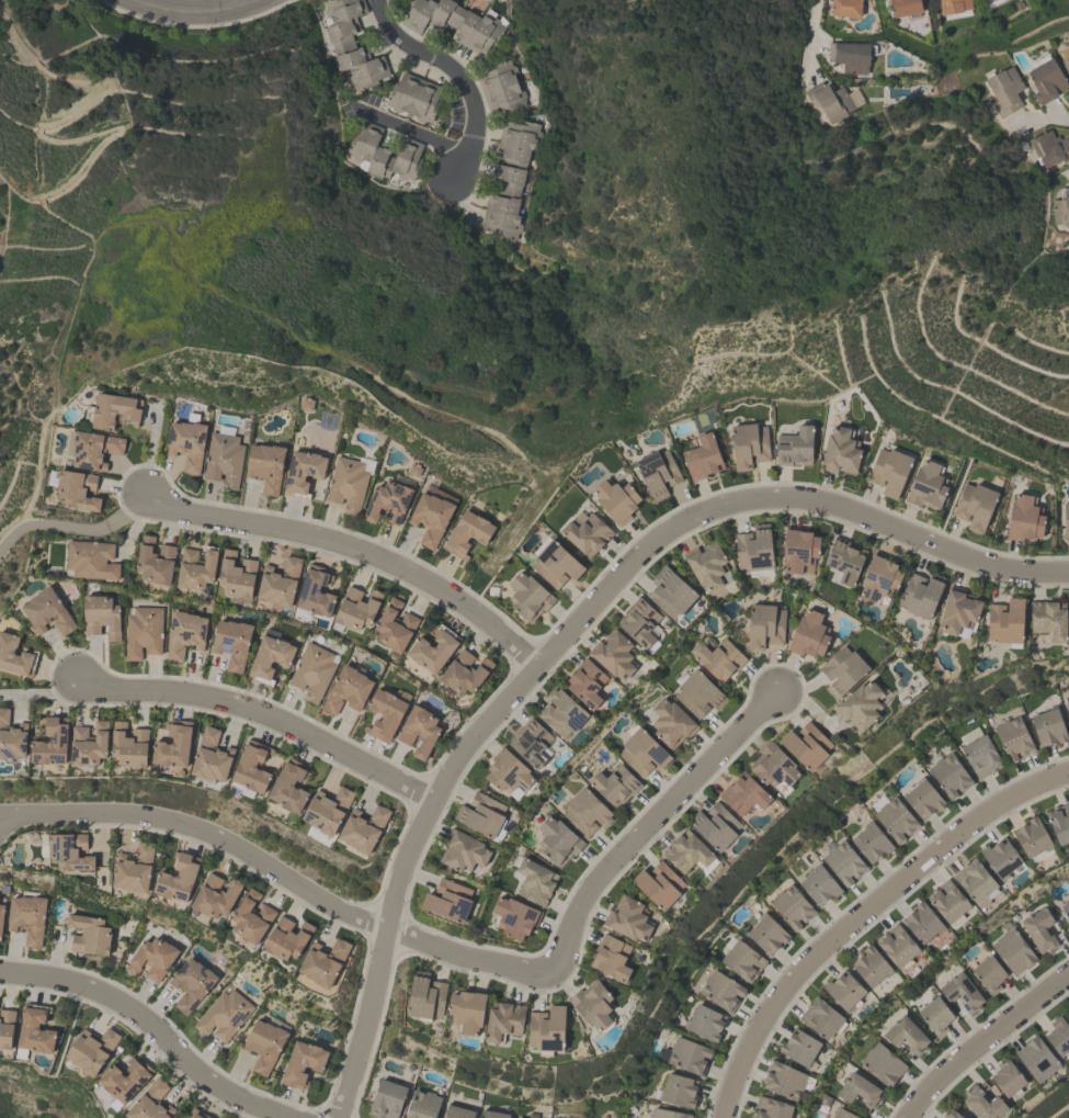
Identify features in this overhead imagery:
building: (986, 1)
building: (954, 5)
building: (905, 7)
building: (845, 8)
road: (191, 11)
building: (454, 22)
road: (812, 33)
building: (351, 43)
building: (1068, 54)
building: (851, 56)
building: (1066, 64)
road: (456, 71)
building: (1046, 80)
building: (500, 87)
building: (1004, 90)
building: (413, 97)
building: (829, 100)
road: (1044, 121)
road: (414, 132)
building: (1049, 148)
building: (383, 151)
building: (508, 178)
building: (1060, 207)
building: (112, 410)
building: (186, 443)
building: (749, 444)
building: (795, 447)
building: (94, 449)
building: (840, 450)
building: (702, 458)
building: (223, 459)
building: (265, 466)
building: (889, 471)
building: (303, 472)
building: (658, 473)
building: (346, 483)
building: (926, 486)
building: (76, 489)
building: (389, 500)
building: (616, 500)
building: (975, 506)
building: (432, 513)
building: (1024, 518)
building: (1066, 519)
road: (72, 526)
building: (467, 533)
building: (587, 533)
road: (355, 545)
building: (754, 549)
building: (798, 550)
building: (90, 560)
building: (844, 560)
building: (155, 561)
building: (555, 564)
building: (708, 565)
building: (195, 569)
building: (237, 577)
building: (879, 578)
building: (278, 583)
building: (316, 591)
building: (670, 592)
building: (921, 595)
building: (528, 596)
building: (357, 608)
building: (46, 611)
building: (958, 613)
building: (101, 616)
building: (1049, 619)
building: (1007, 622)
road: (571, 624)
building: (640, 624)
building: (395, 625)
building: (764, 625)
building: (141, 632)
building: (184, 633)
building: (809, 634)
building: (232, 643)
building: (434, 650)
building: (614, 654)
building: (15, 656)
building: (270, 657)
building: (719, 659)
building: (312, 670)
building: (842, 670)
building: (464, 673)
building: (585, 682)
building: (346, 689)
road: (39, 692)
building: (698, 693)
building: (1067, 703)
building: (861, 705)
road: (263, 712)
building: (561, 712)
building: (385, 714)
building: (671, 723)
building: (1048, 724)
building: (419, 731)
building: (12, 737)
building: (1013, 738)
building: (52, 742)
building: (531, 742)
building: (89, 745)
building: (174, 745)
building: (806, 745)
building: (129, 746)
building: (641, 753)
building: (979, 753)
building: (212, 757)
building: (774, 768)
building: (251, 770)
building: (509, 773)
building: (949, 775)
building: (614, 784)
building: (289, 787)
building: (744, 795)
building: (923, 798)
building: (328, 811)
building: (585, 812)
building: (481, 814)
building: (895, 818)
building: (1059, 822)
building: (715, 826)
building: (363, 829)
road: (202, 833)
building: (1032, 837)
building: (558, 840)
building: (871, 842)
building: (67, 851)
building: (463, 851)
building: (686, 852)
building: (1002, 858)
building: (843, 862)
building: (134, 869)
building: (178, 878)
building: (535, 881)
building: (975, 881)
building: (819, 884)
building: (659, 885)
road: (602, 892)
building: (215, 897)
building: (448, 901)
building: (948, 902)
building: (792, 905)
building: (1066, 912)
road: (863, 913)
building: (27, 916)
building: (1, 917)
building: (514, 917)
building: (252, 918)
building: (628, 918)
building: (922, 923)
building: (1038, 929)
building: (766, 933)
building: (89, 935)
building: (286, 939)
building: (897, 946)
building: (1013, 951)
building: (151, 958)
building: (612, 958)
building: (742, 960)
building: (323, 962)
building: (871, 965)
building: (988, 973)
building: (191, 984)
building: (720, 990)
building: (844, 991)
building: (962, 992)
building: (425, 997)
building: (594, 1006)
building: (1068, 1009)
building: (467, 1012)
building: (223, 1015)
building: (935, 1015)
building: (821, 1019)
building: (503, 1020)
building: (704, 1023)
road: (149, 1028)
building: (7, 1029)
building: (547, 1030)
building: (35, 1034)
building: (906, 1035)
building: (1058, 1037)
building: (264, 1044)
road: (986, 1044)
building: (800, 1049)
building: (92, 1051)
building: (686, 1054)
building: (1036, 1059)
building: (882, 1063)
building: (303, 1064)
building: (1008, 1079)
building: (786, 1081)
building: (124, 1082)
building: (678, 1091)
building: (858, 1092)
building: (387, 1099)
building: (150, 1103)
building: (983, 1103)
building: (423, 1105)
building: (770, 1108)
building: (457, 1113)
building: (197, 1114)
building: (668, 1114)
building: (843, 1114)
building: (492, 1115)
building: (951, 1115)
building: (553, 1117)

